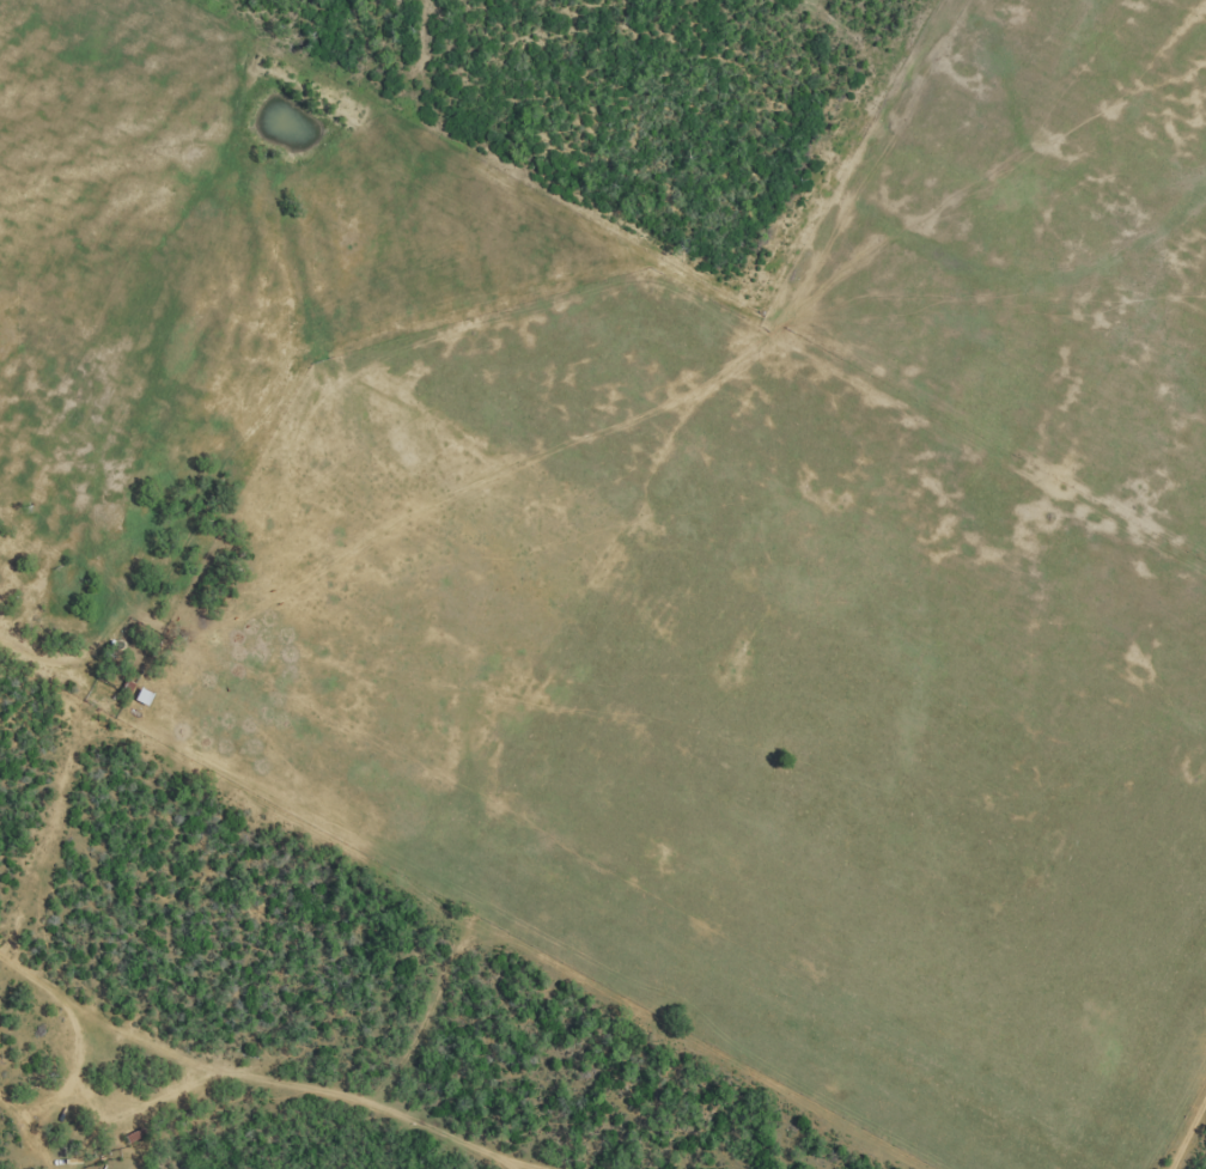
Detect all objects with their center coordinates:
road: (217, 1064)
road: (452, 1082)
road: (65, 1094)
road: (102, 1095)
road: (144, 1104)
building: (133, 1135)
road: (38, 1145)

